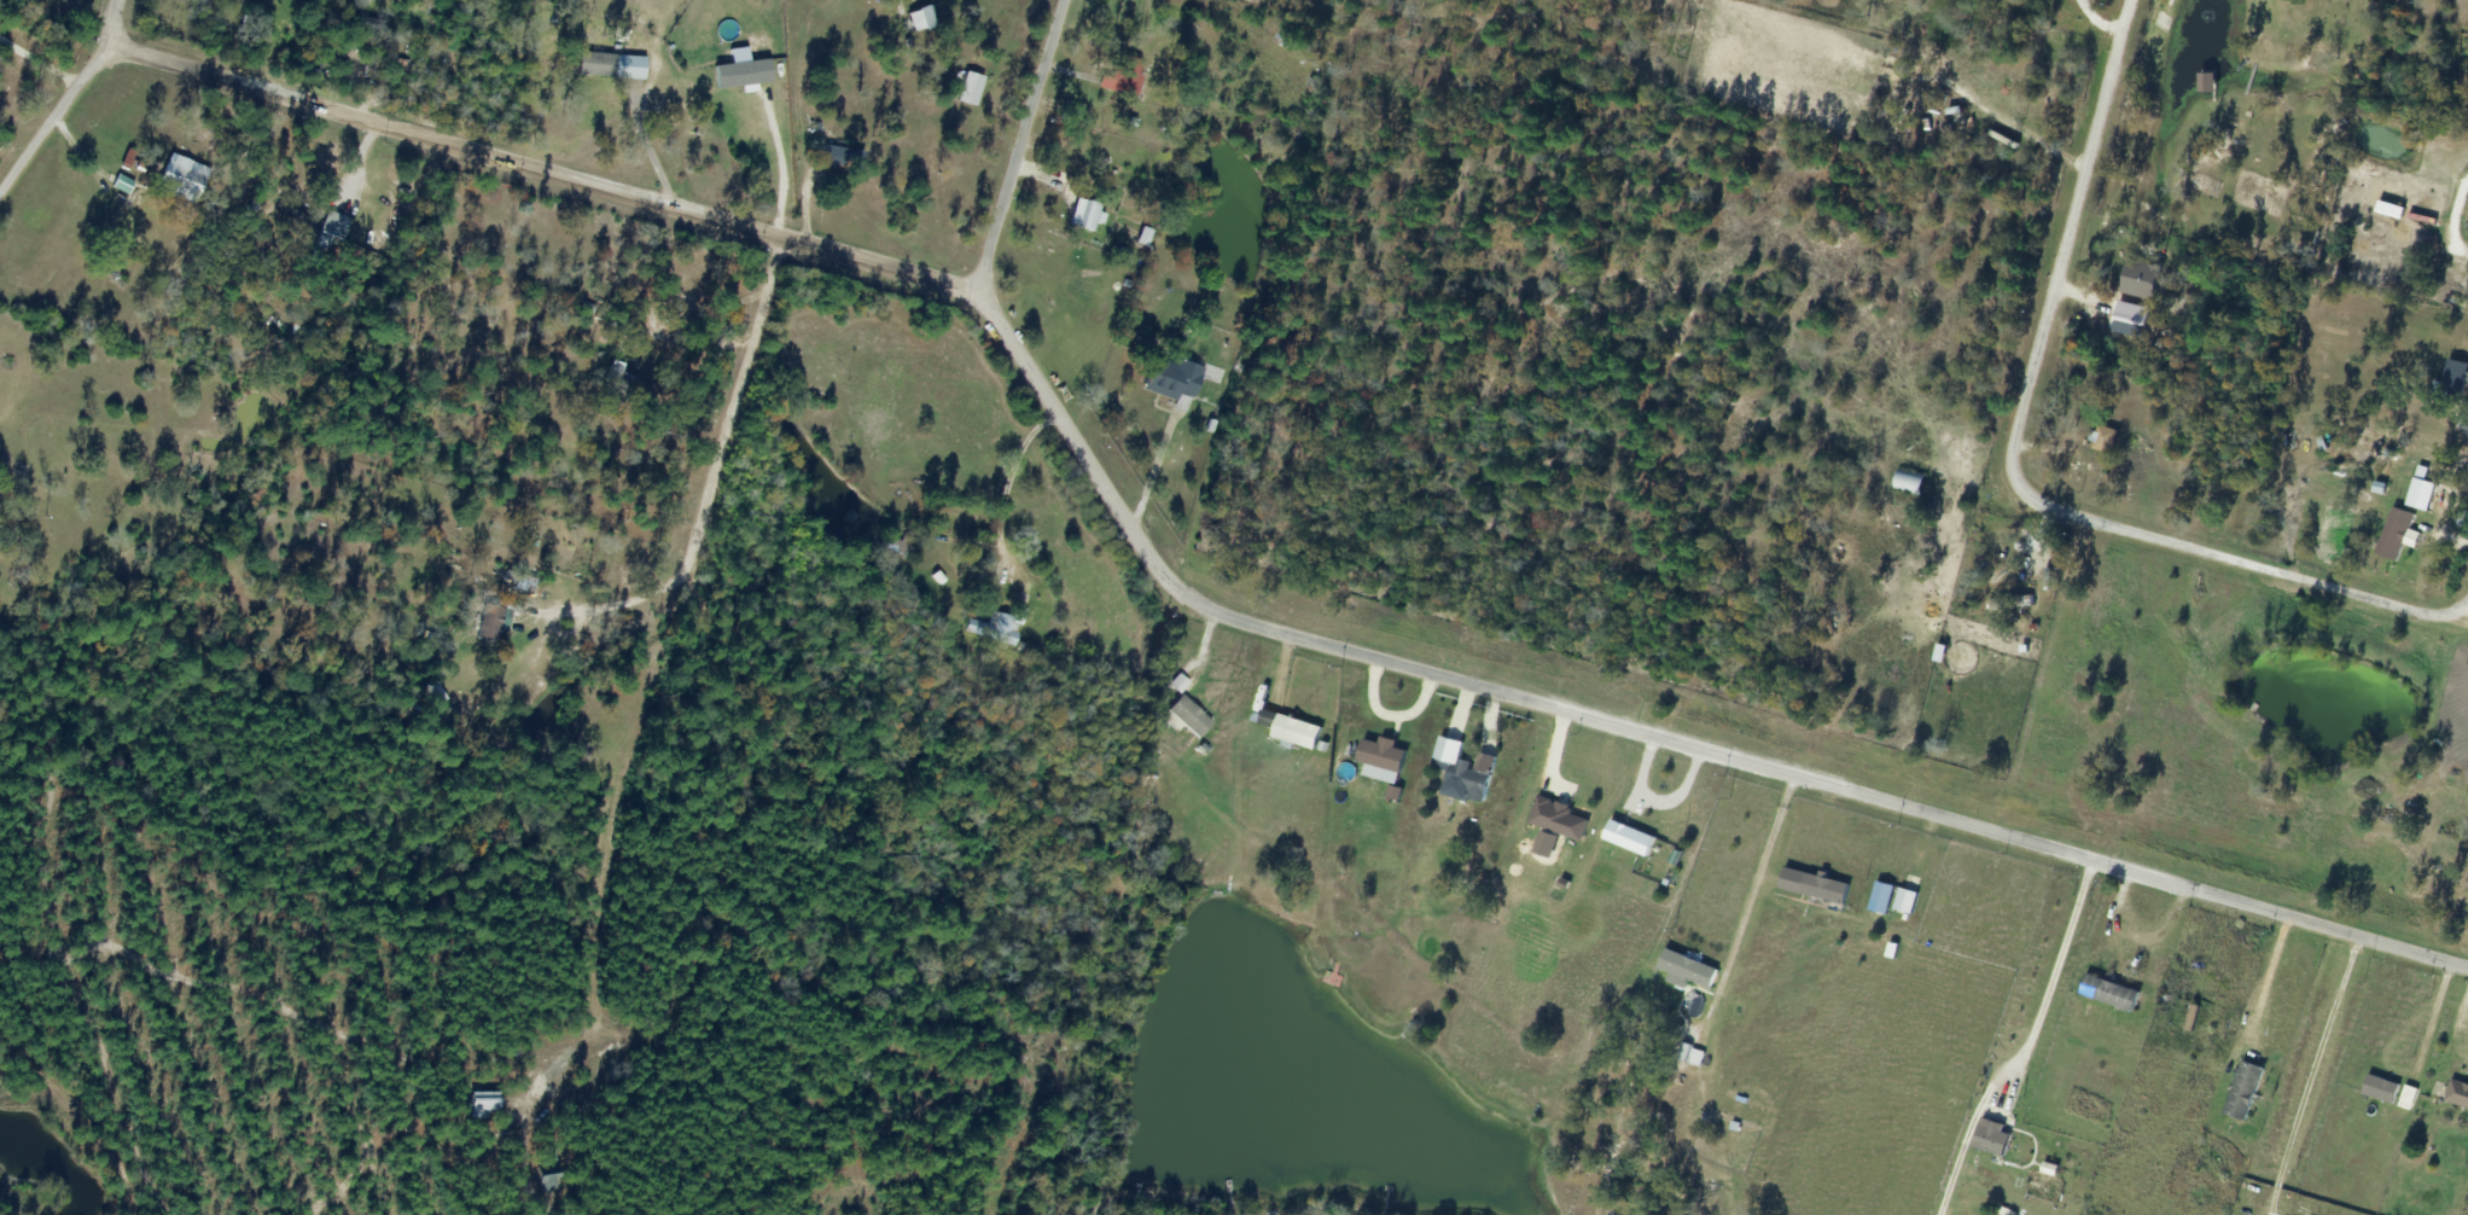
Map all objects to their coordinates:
building: (914, 19)
road: (111, 21)
building: (1287, 37)
building: (596, 64)
building: (1125, 75)
building: (2205, 81)
road: (54, 116)
road: (1019, 145)
building: (842, 157)
road: (351, 167)
road: (541, 167)
building: (180, 180)
building: (1084, 214)
building: (297, 225)
building: (2423, 249)
building: (628, 327)
building: (2454, 377)
building: (1171, 380)
building: (618, 382)
building: (2101, 438)
road: (2009, 476)
building: (1908, 482)
building: (2392, 534)
building: (897, 545)
building: (519, 582)
building: (488, 623)
building: (999, 628)
building: (1938, 653)
building: (1184, 716)
building: (1290, 728)
road: (1647, 734)
building: (1380, 761)
building: (1468, 778)
building: (1628, 838)
building: (1823, 889)
building: (1686, 969)
building: (2108, 993)
building: (2379, 1089)
building: (2241, 1091)
building: (2456, 1093)
building: (485, 1104)
building: (1990, 1141)
building: (552, 1176)

